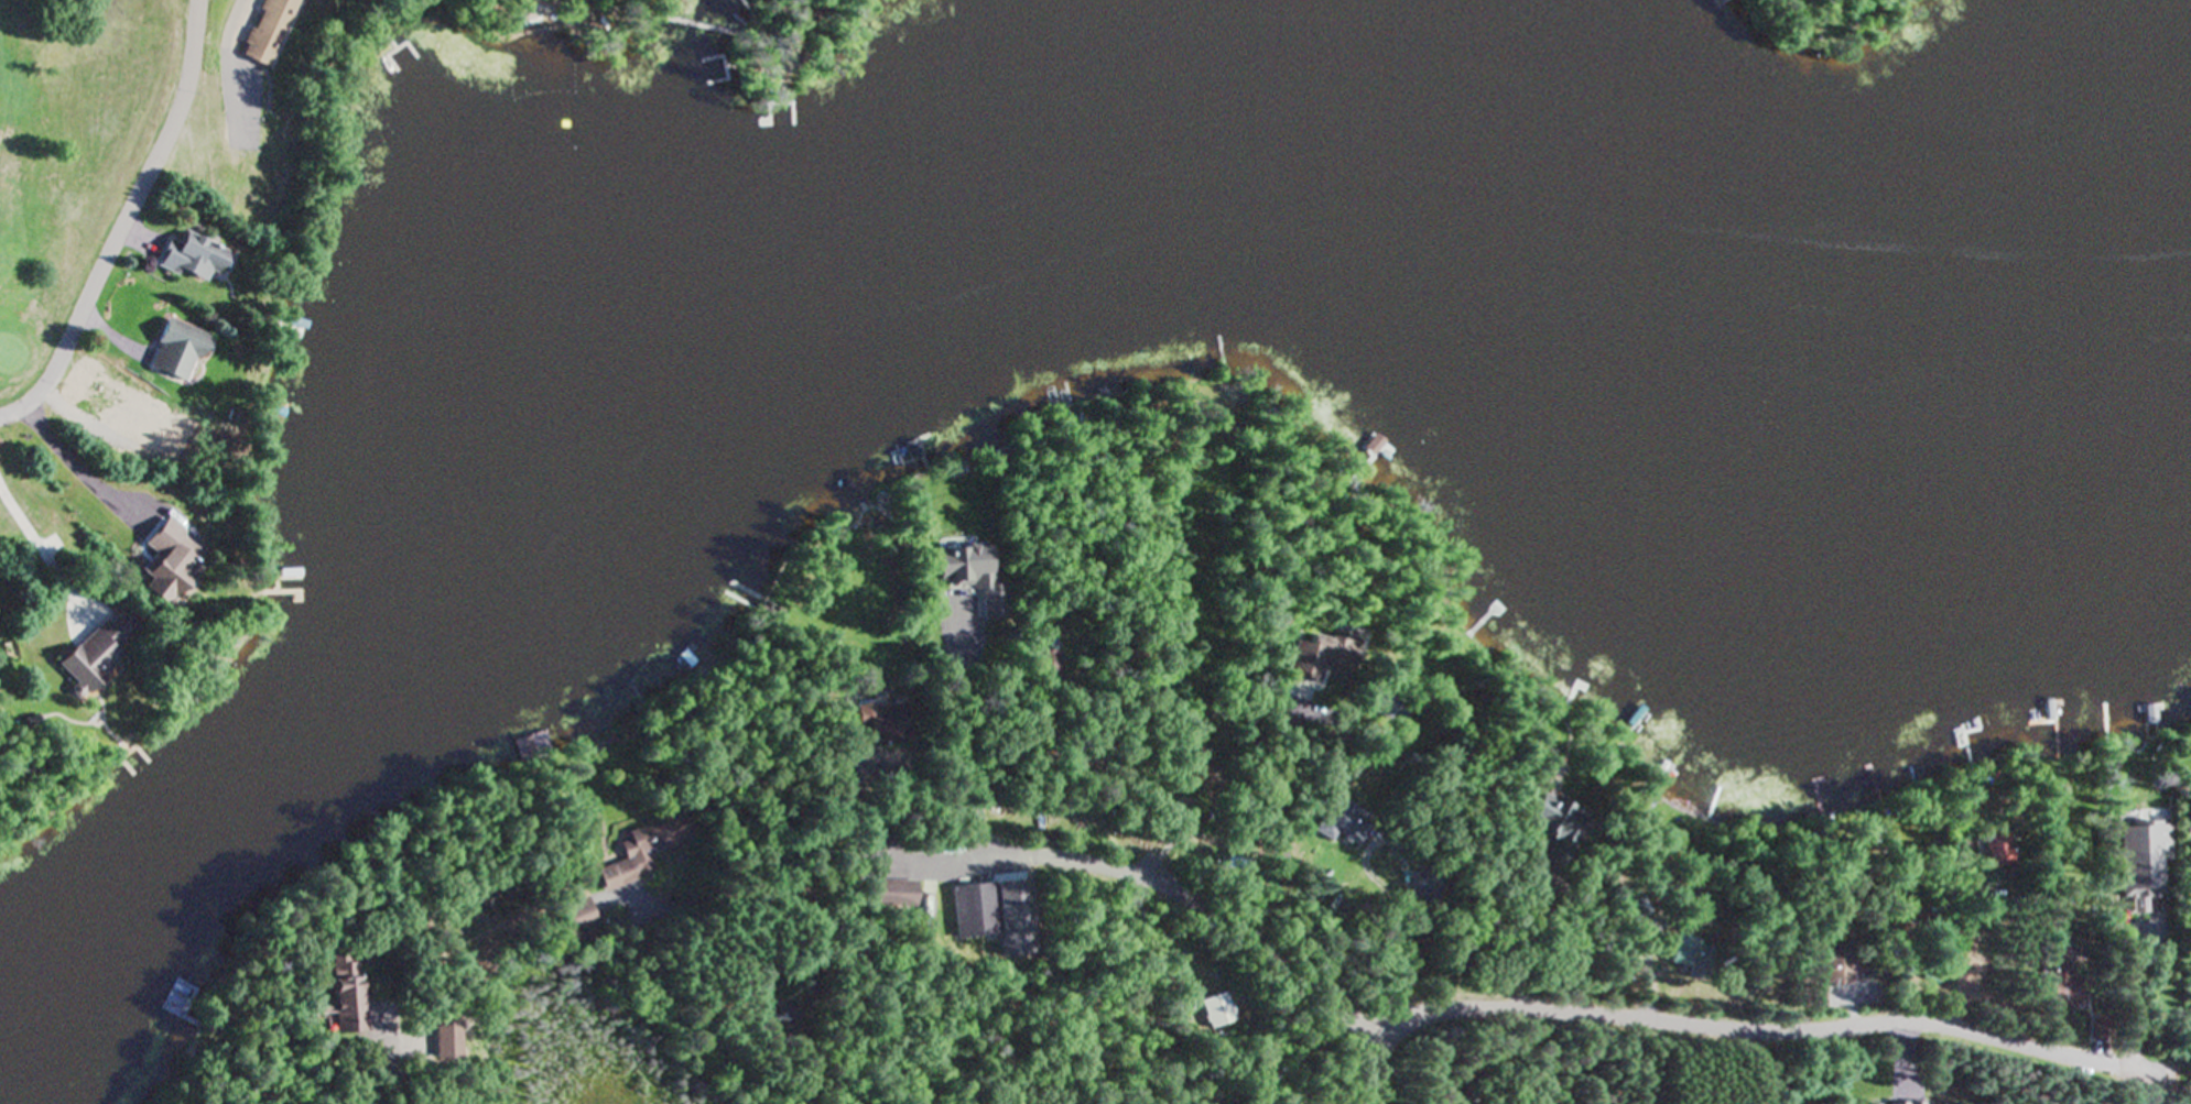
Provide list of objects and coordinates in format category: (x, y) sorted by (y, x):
building: (262, 32)
road: (230, 68)
river: (1010, 206)
park: (64, 208)
road: (127, 223)
building: (184, 256)
building: (169, 350)
building: (970, 577)
building: (89, 656)
building: (1314, 658)
building: (1045, 669)
building: (1381, 703)
building: (2149, 714)
building: (880, 721)
building: (528, 746)
building: (1190, 764)
building: (2189, 800)
building: (1550, 817)
building: (1338, 822)
building: (1994, 852)
building: (636, 854)
road: (1161, 884)
building: (891, 895)
building: (972, 910)
building: (574, 921)
building: (1688, 953)
building: (2058, 986)
building: (1812, 994)
building: (341, 995)
building: (1215, 1012)
building: (781, 1016)
road: (1759, 1025)
road: (398, 1079)
road: (812, 1081)

